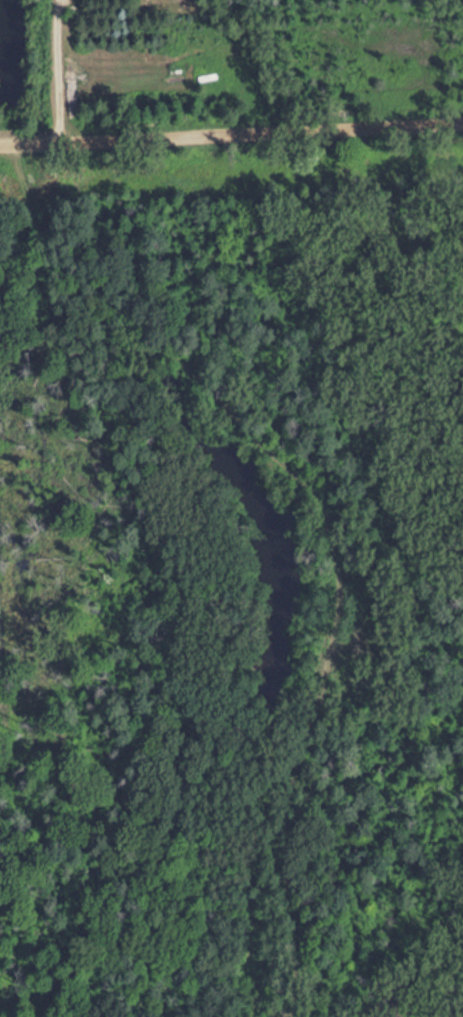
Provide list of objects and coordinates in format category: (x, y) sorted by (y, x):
road: (231, 133)
road: (322, 528)

